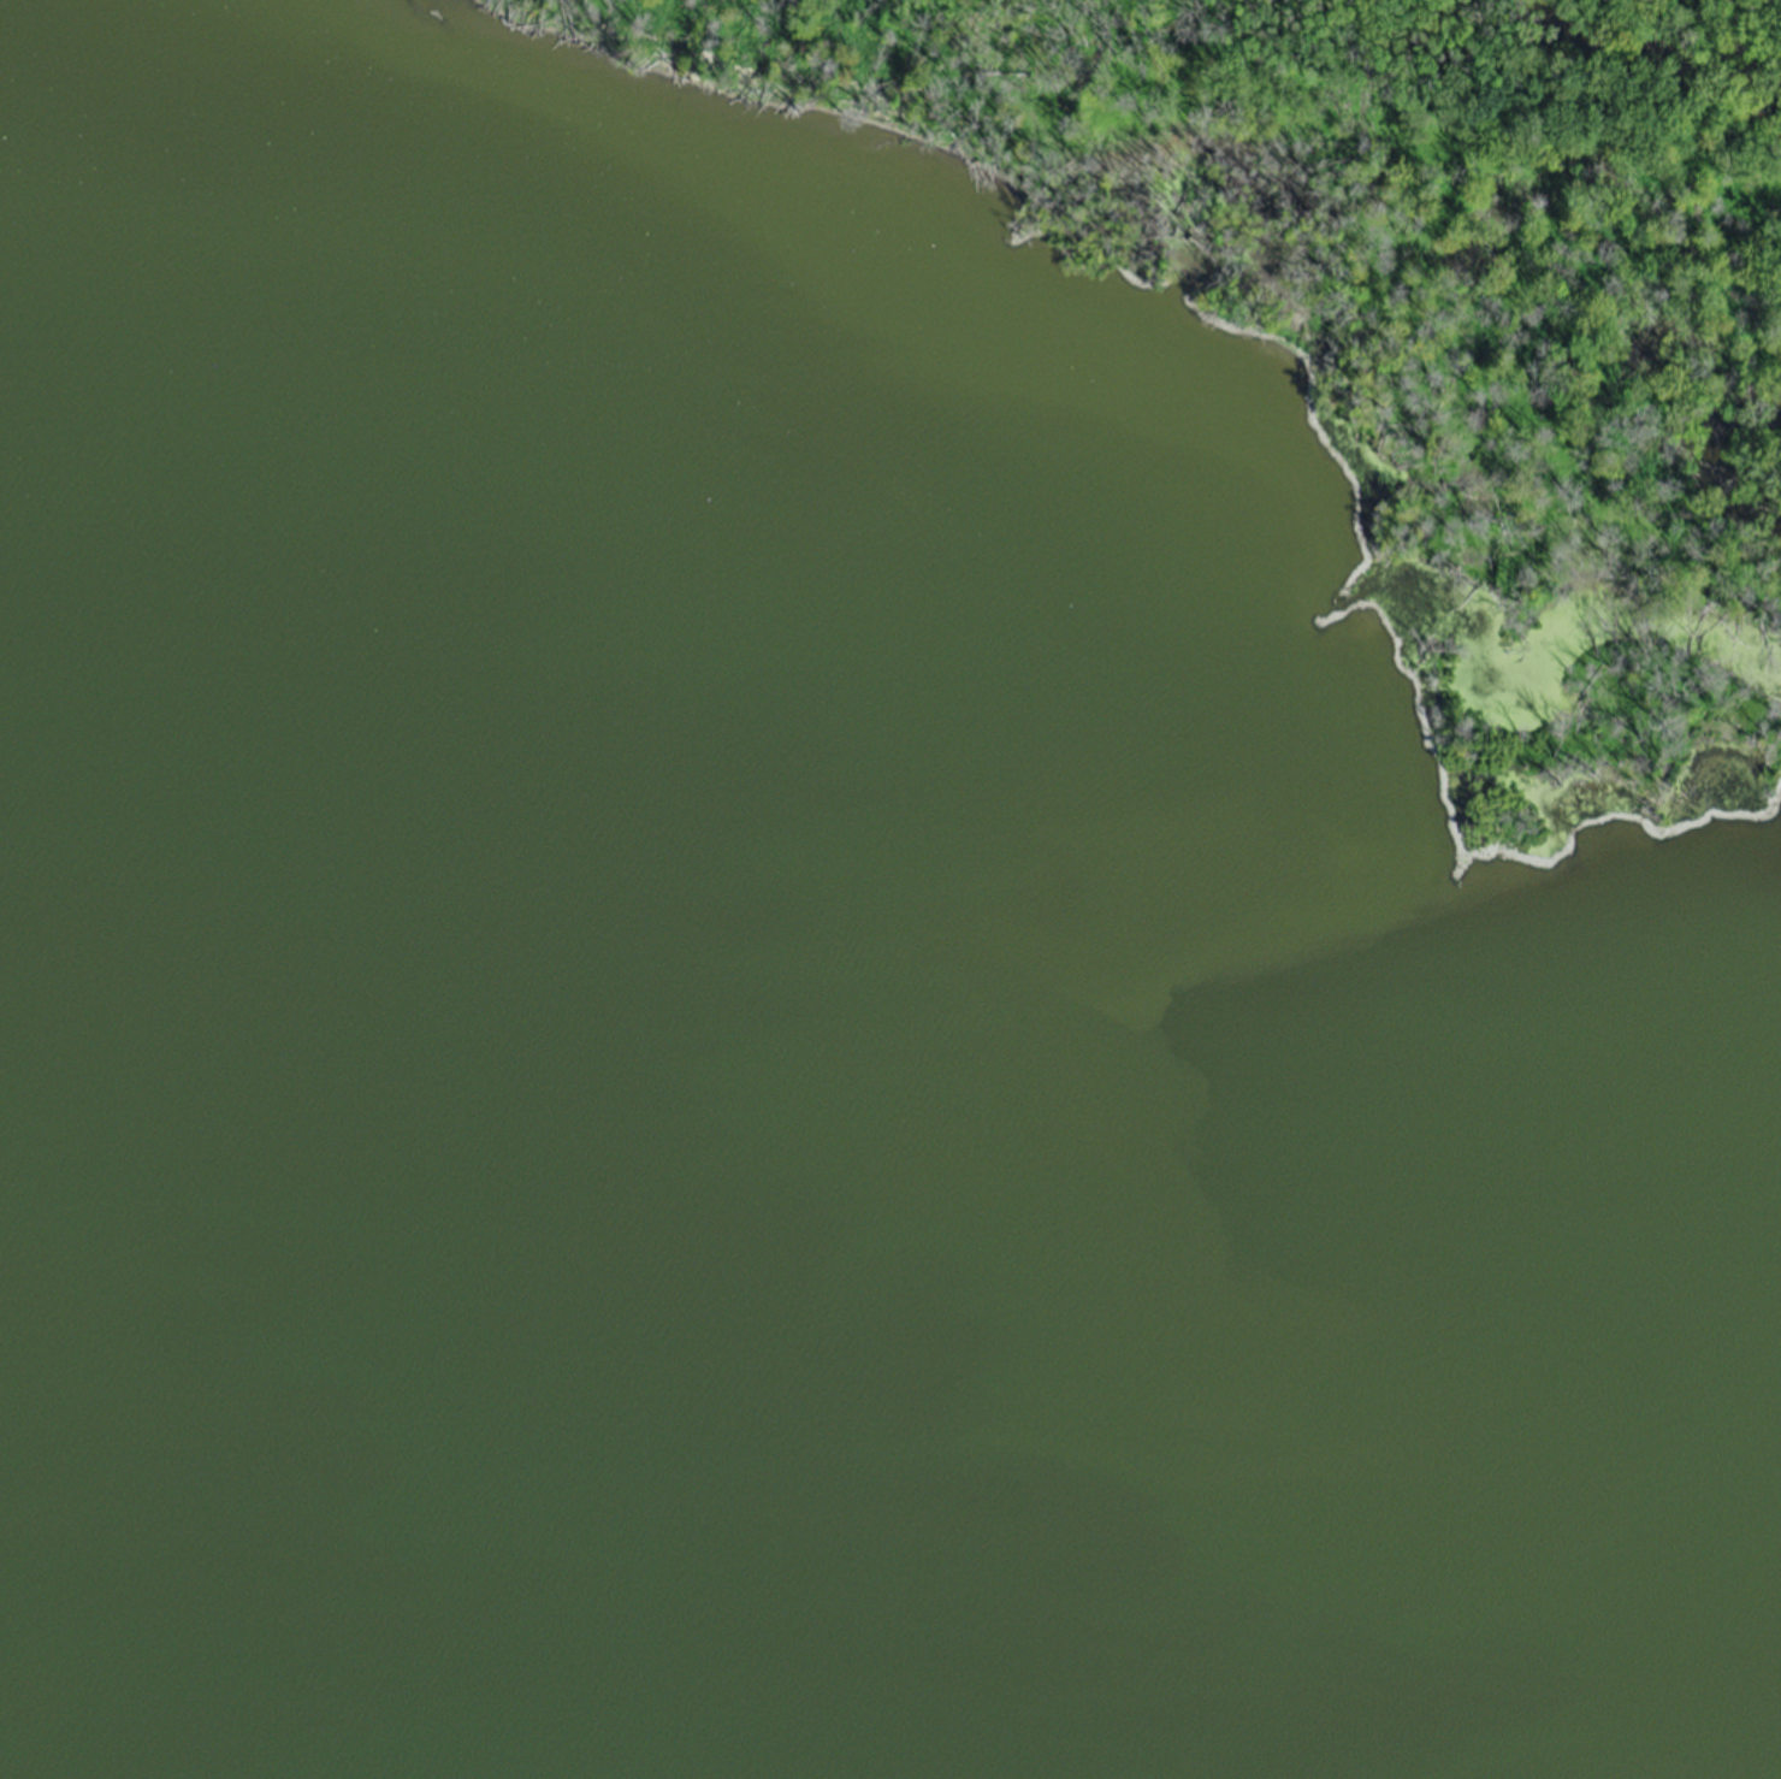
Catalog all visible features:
river: (1658, 69)
river: (1755, 443)
river: (1143, 947)

